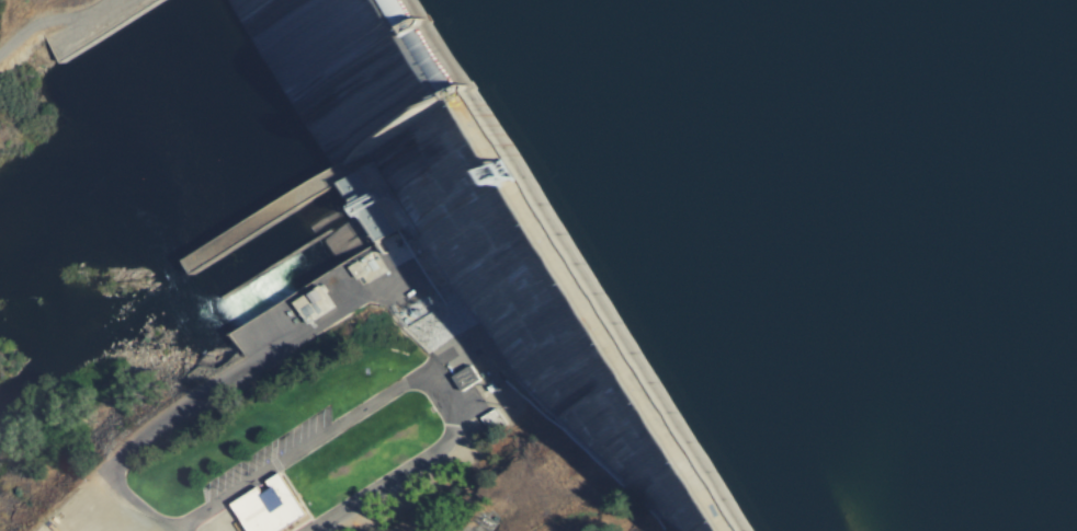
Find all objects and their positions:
river: (148, 173)
park: (830, 234)
dam: (429, 238)
building: (315, 305)
road: (400, 388)
building: (271, 509)

